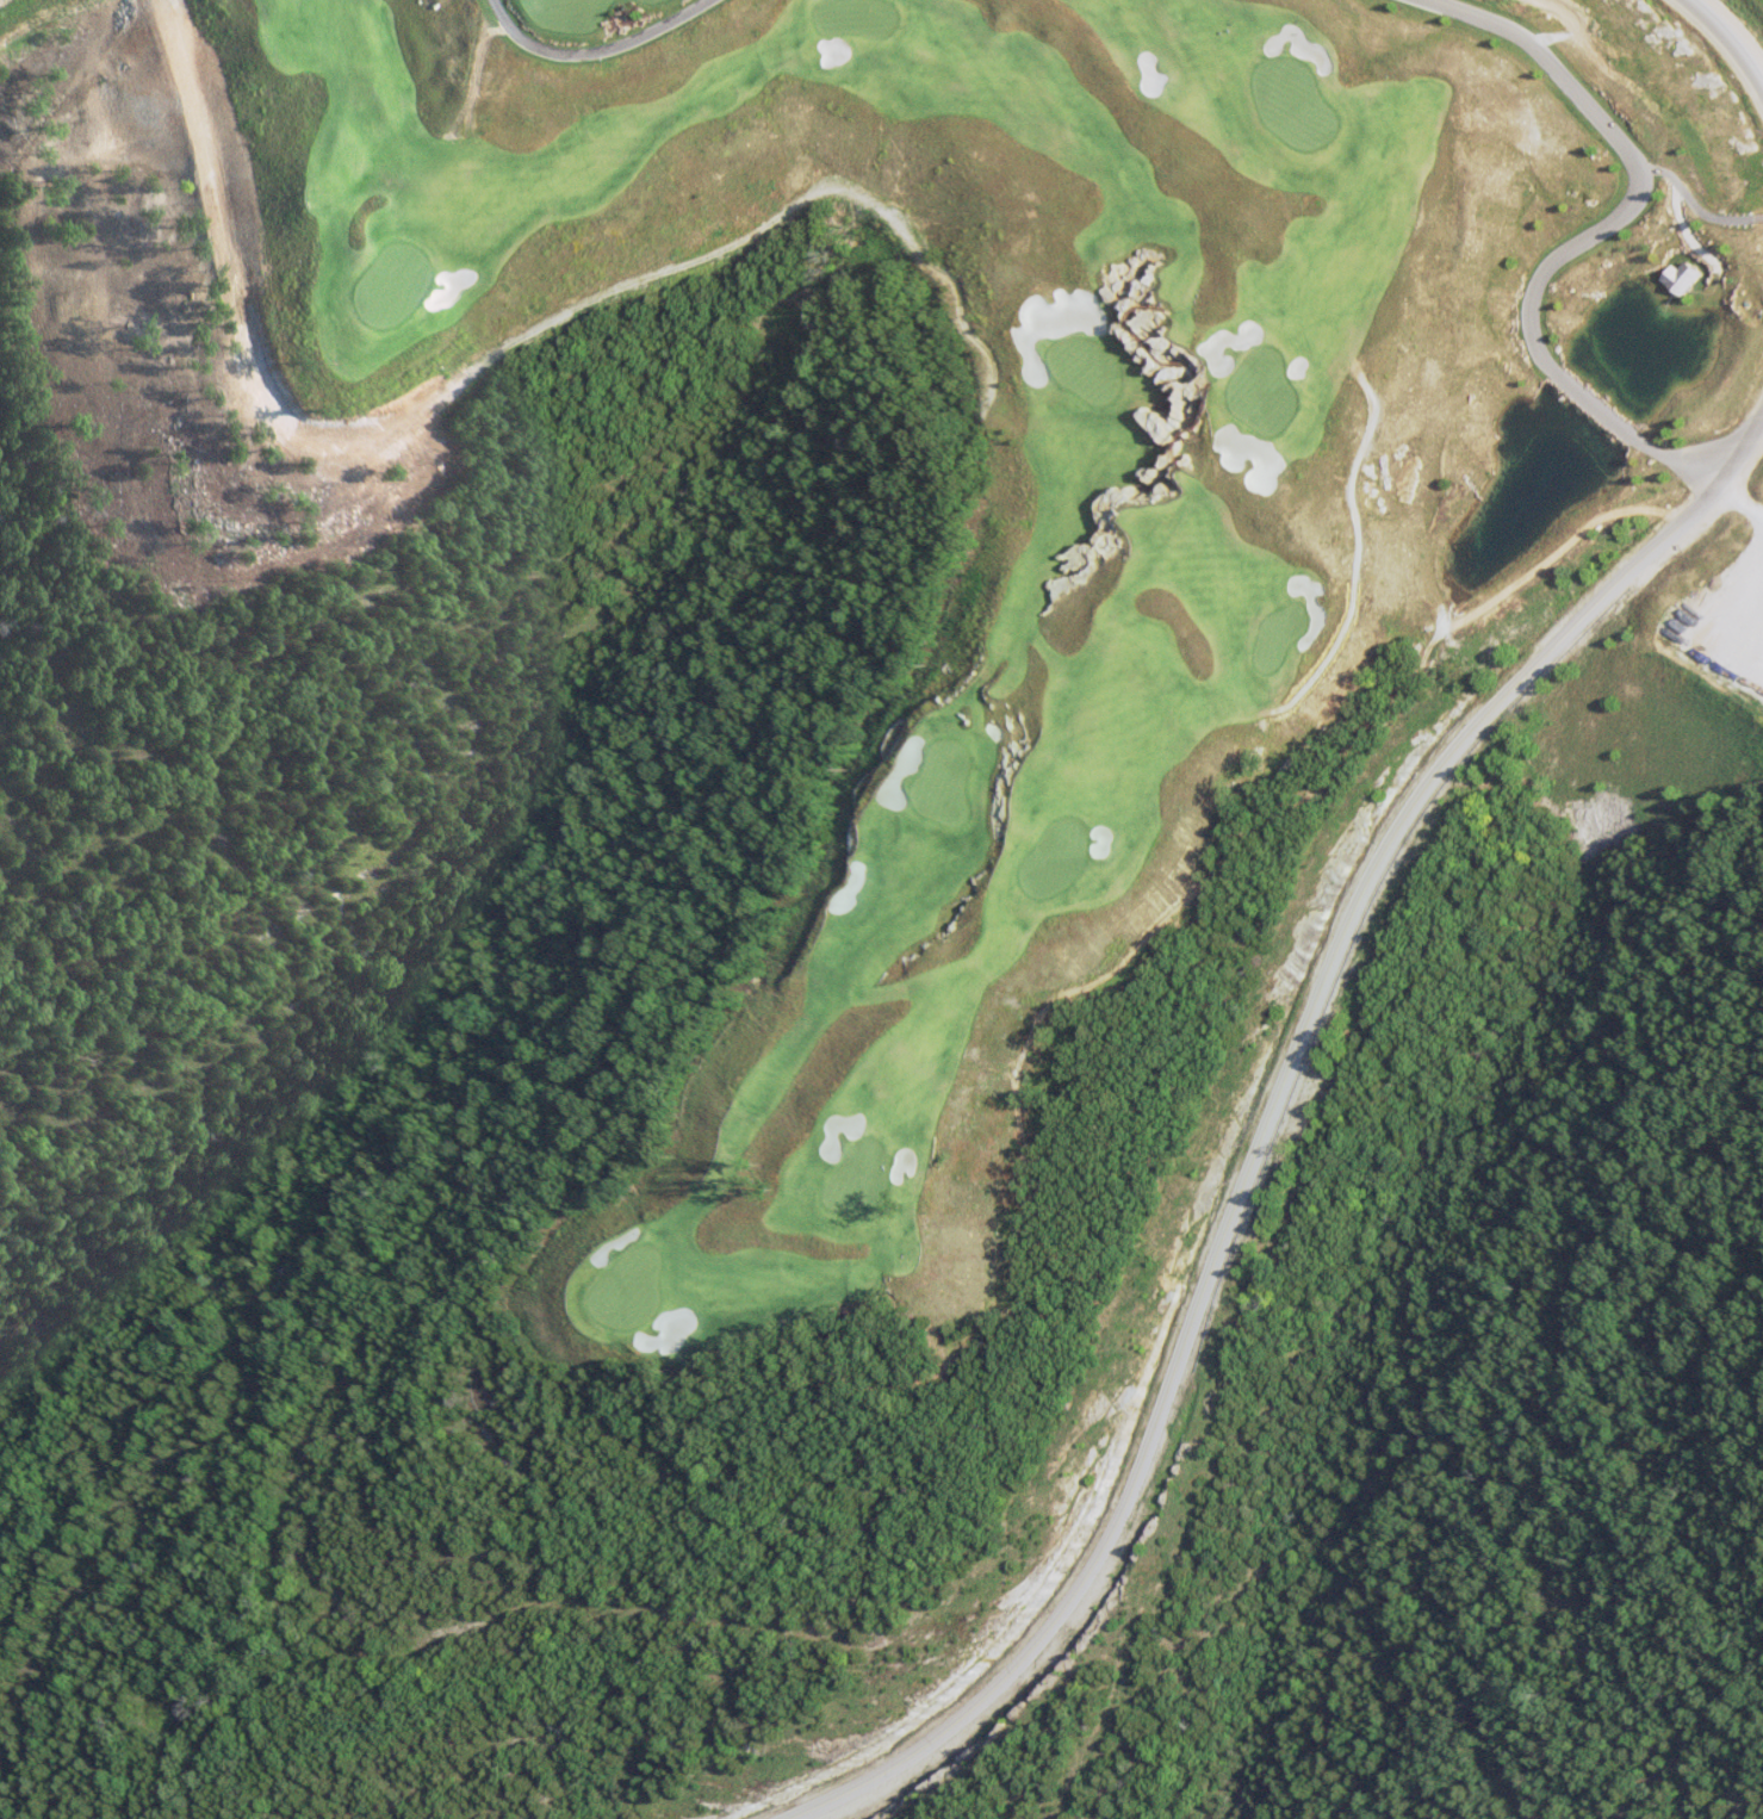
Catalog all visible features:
road: (1726, 45)
road: (598, 51)
road: (1577, 242)
road: (935, 267)
building: (1689, 277)
park: (372, 349)
road: (352, 423)
road: (1757, 491)
road: (1261, 1143)

